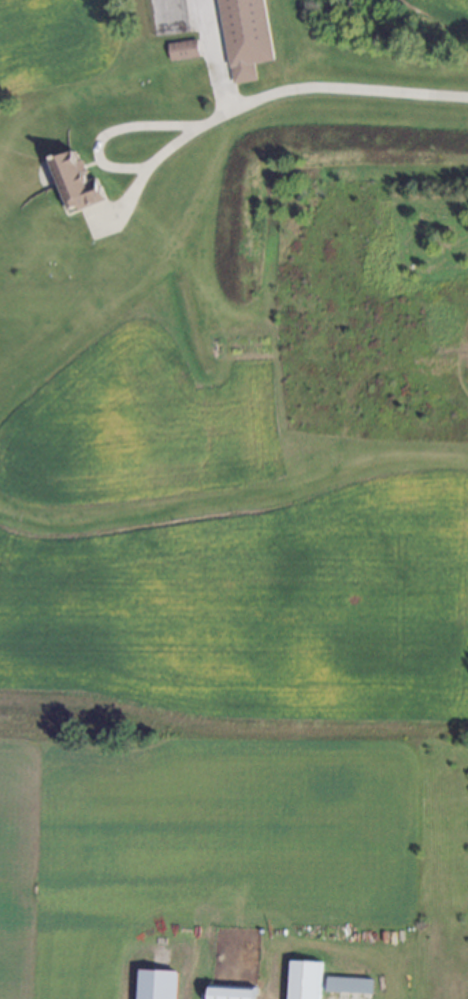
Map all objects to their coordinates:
crop: (447, 14)
building: (247, 37)
crop: (54, 43)
building: (185, 50)
road: (329, 90)
road: (99, 159)
building: (78, 182)
crop: (204, 667)
building: (304, 980)
building: (158, 984)
building: (348, 985)
building: (232, 992)

